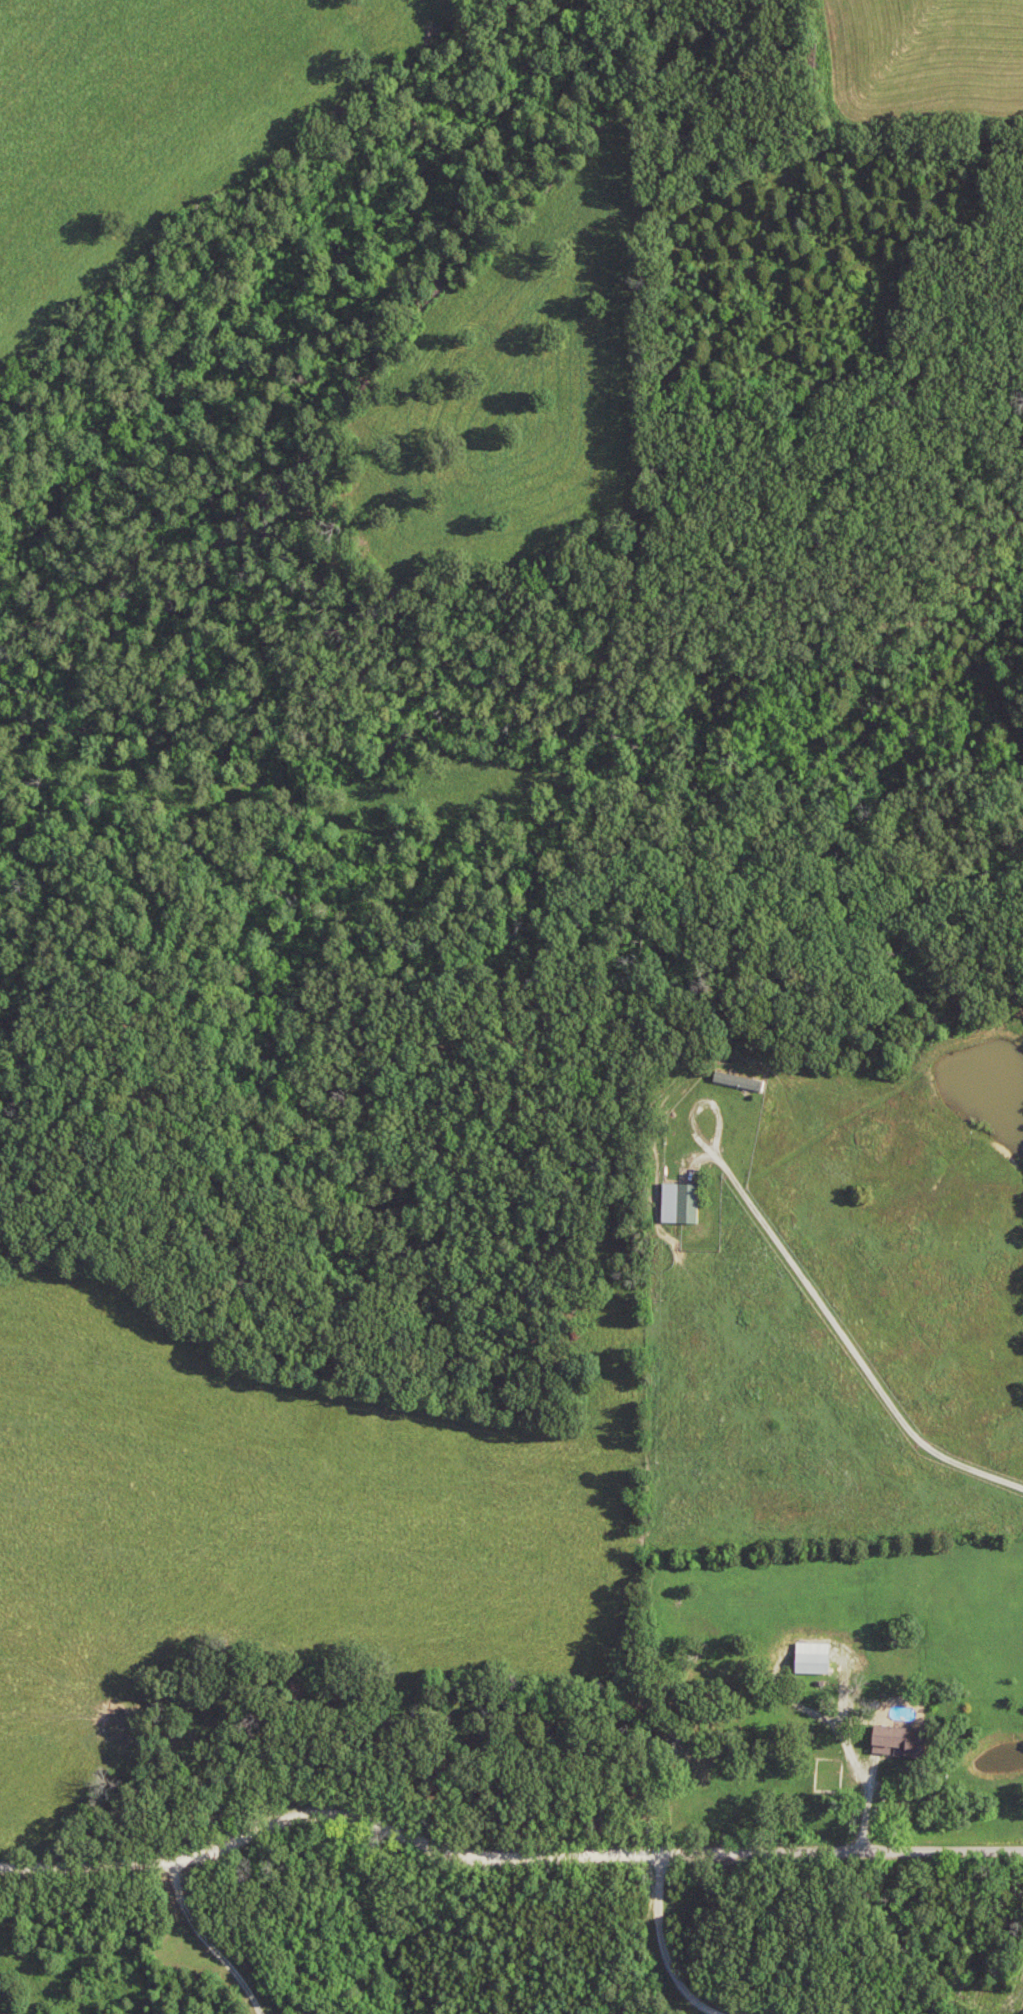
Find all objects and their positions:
building: (744, 1080)
road: (697, 1144)
building: (687, 1203)
road: (850, 1352)
building: (819, 1657)
building: (905, 1737)
road: (925, 1803)
road: (501, 1864)

